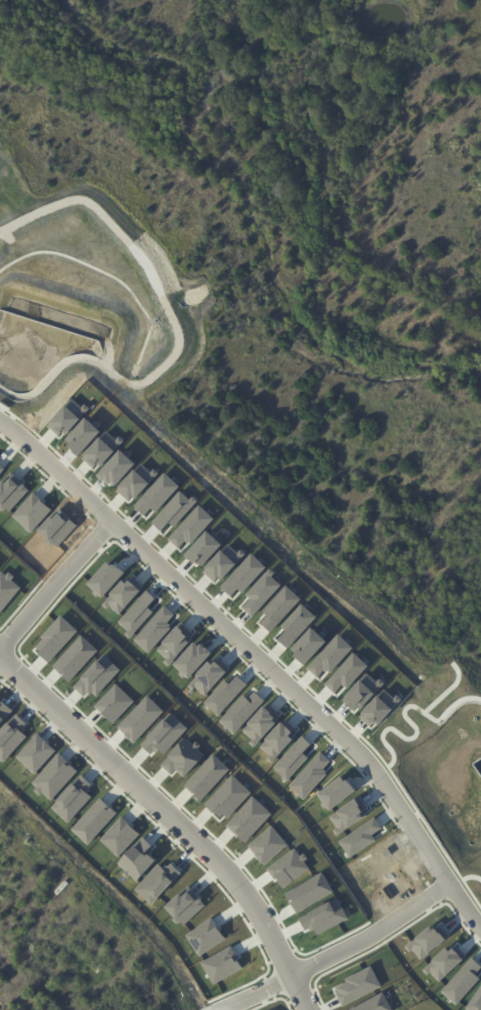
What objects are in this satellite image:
road: (58, 586)
road: (258, 650)
road: (177, 811)
building: (66, 892)
road: (342, 950)

